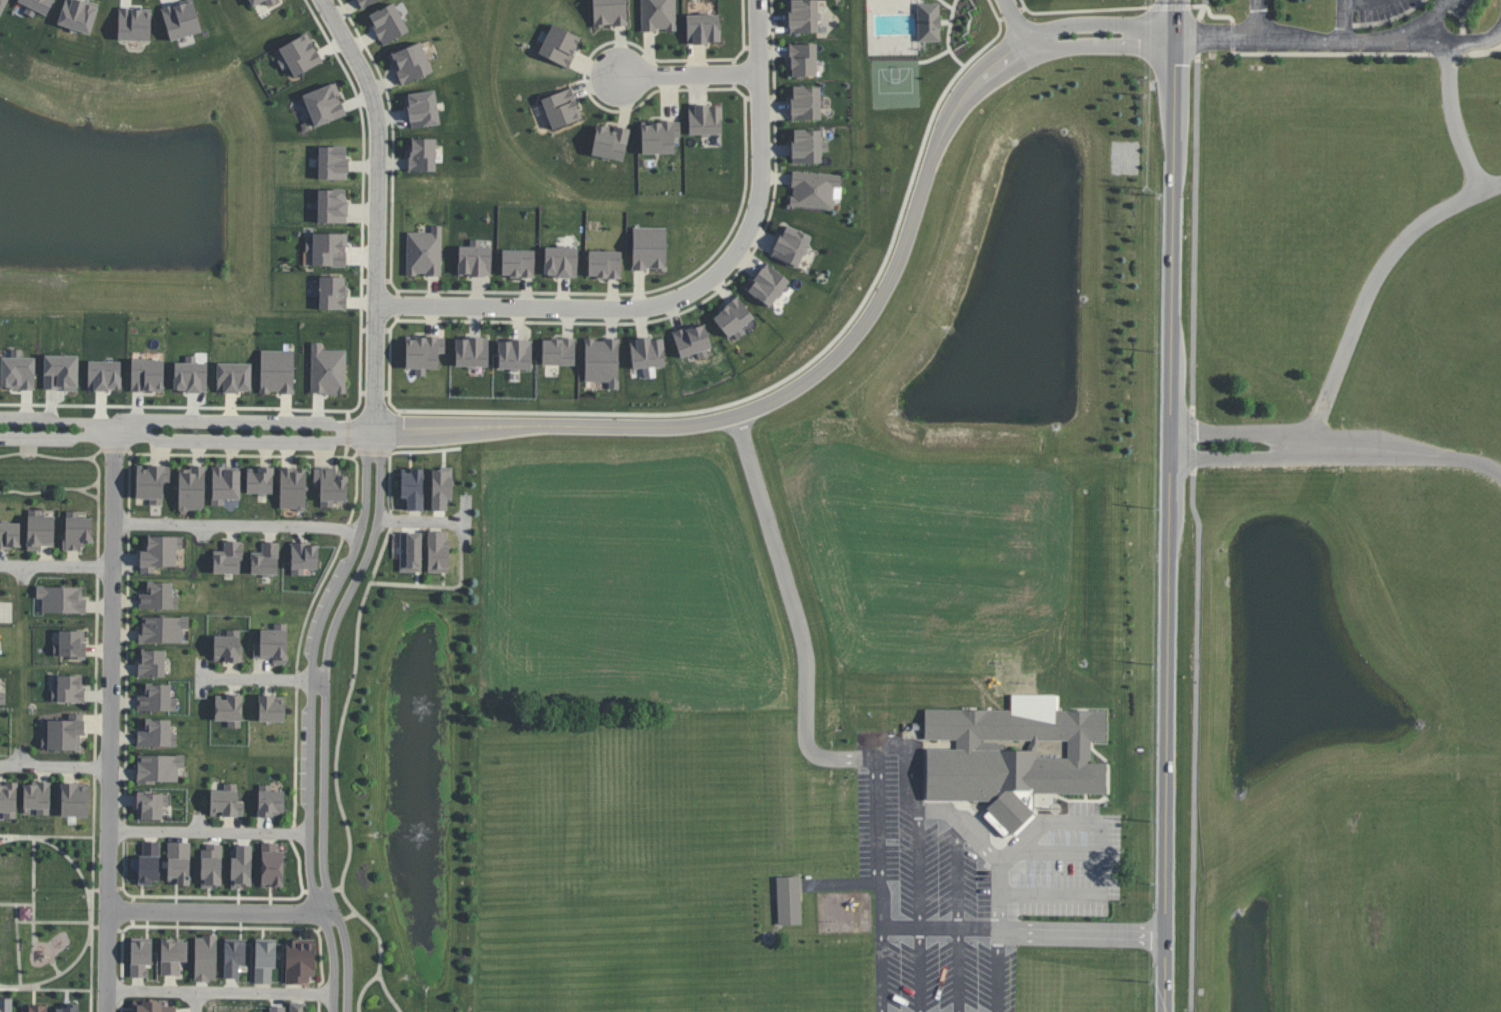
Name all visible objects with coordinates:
building: (365, 2)
road: (1354, 2)
building: (254, 4)
building: (38, 5)
building: (2, 6)
road: (1202, 9)
building: (609, 13)
building: (78, 15)
building: (658, 15)
building: (803, 16)
road: (1346, 18)
building: (181, 19)
road: (1261, 19)
building: (928, 22)
road: (1014, 22)
building: (388, 23)
building: (134, 24)
building: (702, 28)
road: (1318, 38)
road: (1199, 39)
road: (1445, 41)
building: (559, 45)
building: (299, 55)
building: (802, 59)
building: (410, 62)
road: (691, 67)
building: (805, 102)
building: (324, 104)
building: (561, 108)
building: (422, 109)
building: (704, 119)
building: (659, 136)
building: (610, 142)
building: (807, 146)
building: (422, 154)
building: (332, 162)
building: (813, 189)
building: (332, 205)
road: (377, 219)
road: (1410, 232)
building: (791, 245)
building: (649, 248)
building: (328, 249)
building: (424, 252)
building: (474, 259)
building: (560, 261)
building: (518, 263)
building: (604, 264)
building: (767, 285)
road: (688, 288)
building: (332, 292)
building: (734, 318)
building: (692, 340)
road: (838, 349)
building: (471, 351)
building: (558, 351)
building: (423, 353)
building: (515, 354)
building: (647, 355)
building: (602, 361)
building: (327, 370)
building: (17, 371)
building: (277, 371)
building: (60, 372)
building: (104, 375)
building: (147, 375)
building: (190, 375)
building: (234, 377)
parking lot: (26, 416)
parking lot: (214, 420)
road: (48, 421)
road: (245, 425)
road: (119, 430)
road: (348, 434)
road: (48, 436)
road: (244, 439)
parking lot: (34, 441)
parking lot: (246, 444)
road: (1338, 446)
road: (114, 449)
road: (347, 451)
road: (373, 451)
road: (273, 454)
road: (355, 454)
road: (51, 456)
building: (260, 482)
road: (130, 484)
building: (149, 484)
building: (226, 485)
building: (441, 487)
road: (50, 488)
building: (190, 488)
building: (330, 488)
building: (412, 488)
building: (291, 491)
road: (90, 493)
road: (1171, 505)
road: (98, 507)
road: (393, 520)
road: (423, 521)
road: (467, 521)
road: (129, 522)
road: (239, 526)
building: (75, 529)
building: (37, 531)
road: (345, 531)
road: (203, 533)
building: (10, 535)
road: (1198, 535)
building: (410, 551)
building: (438, 551)
building: (159, 553)
building: (304, 557)
building: (229, 558)
building: (265, 560)
road: (98, 566)
road: (56, 567)
road: (24, 575)
road: (436, 586)
building: (160, 593)
building: (62, 600)
road: (312, 604)
parking lot: (324, 605)
building: (162, 629)
building: (228, 643)
building: (68, 644)
building: (273, 644)
building: (154, 662)
road: (96, 667)
road: (808, 676)
road: (127, 677)
building: (0, 678)
road: (203, 678)
road: (265, 679)
road: (297, 680)
building: (69, 690)
building: (157, 697)
building: (3, 698)
building: (272, 707)
building: (229, 709)
road: (110, 721)
road: (325, 727)
road: (312, 728)
building: (156, 734)
building: (62, 736)
road: (873, 751)
building: (1013, 754)
road: (21, 756)
parking lot: (306, 756)
road: (296, 757)
road: (915, 759)
road: (55, 766)
road: (95, 768)
building: (158, 769)
road: (336, 776)
building: (36, 797)
building: (73, 798)
building: (8, 799)
building: (225, 800)
building: (270, 803)
building: (151, 805)
road: (200, 823)
building: (996, 823)
road: (125, 831)
parking lot: (922, 831)
road: (211, 833)
road: (292, 833)
road: (46, 836)
fountain: (400, 837)
road: (3, 839)
road: (1102, 849)
road: (988, 850)
road: (72, 861)
building: (149, 862)
building: (179, 862)
building: (211, 865)
building: (241, 865)
building: (272, 865)
road: (919, 872)
road: (121, 889)
road: (302, 889)
road: (34, 890)
road: (108, 890)
road: (337, 890)
road: (95, 891)
road: (319, 891)
road: (91, 893)
road: (305, 893)
road: (163, 897)
road: (134, 900)
building: (788, 900)
road: (16, 905)
road: (222, 911)
park: (46, 912)
building: (25, 913)
road: (134, 915)
road: (958, 915)
road: (351, 917)
road: (54, 923)
road: (333, 924)
road: (95, 927)
road: (204, 927)
road: (112, 928)
road: (312, 930)
road: (887, 930)
road: (319, 931)
road: (1083, 935)
road: (18, 946)
road: (122, 947)
building: (172, 953)
parking lot: (952, 955)
building: (140, 956)
building: (233, 957)
building: (205, 958)
building: (265, 960)
building: (300, 961)
road: (56, 968)
road: (68, 969)
road: (881, 970)
road: (999, 972)
road: (219, 985)
road: (45, 990)
road: (364, 990)
road: (220, 993)
road: (319, 996)
road: (198, 1002)
building: (5, 1005)
building: (151, 1005)
road: (121, 1006)
building: (299, 1006)
building: (67, 1008)
building: (277, 1008)
road: (318, 1008)
building: (37, 1009)

